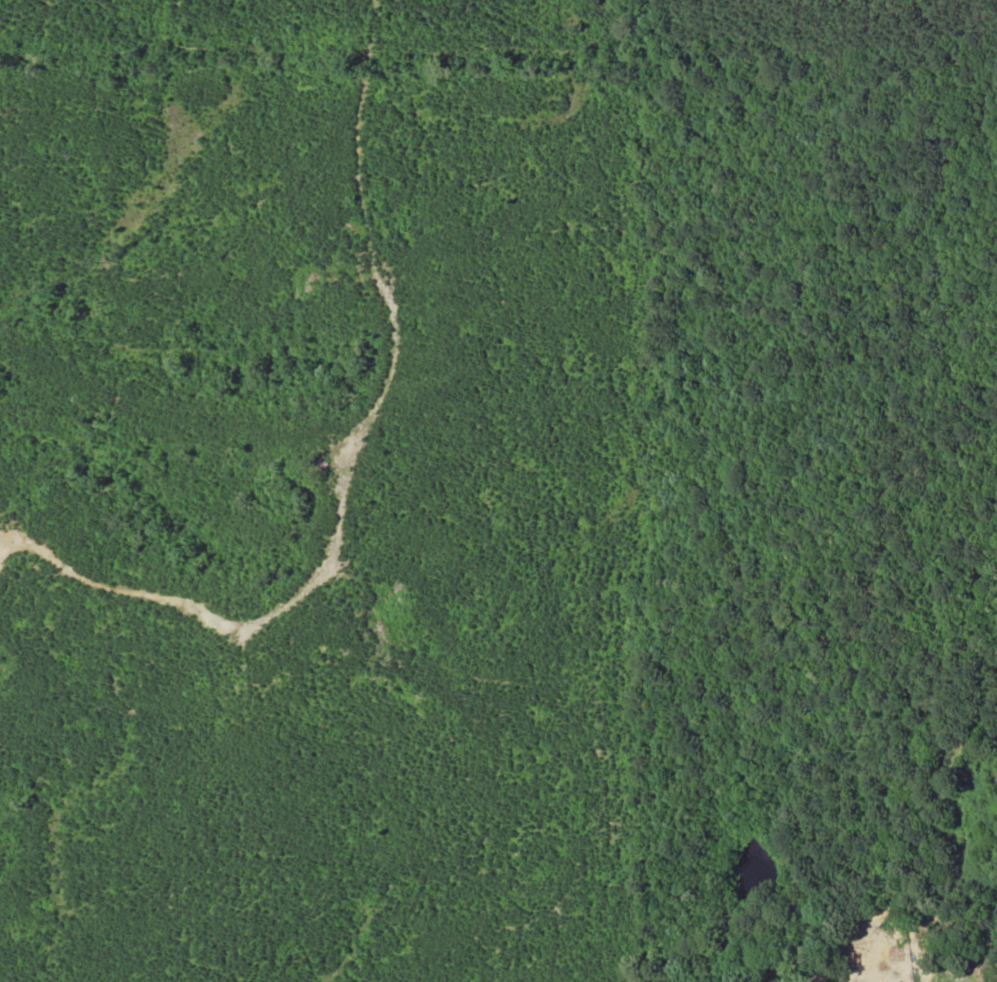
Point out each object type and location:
building: (900, 953)

